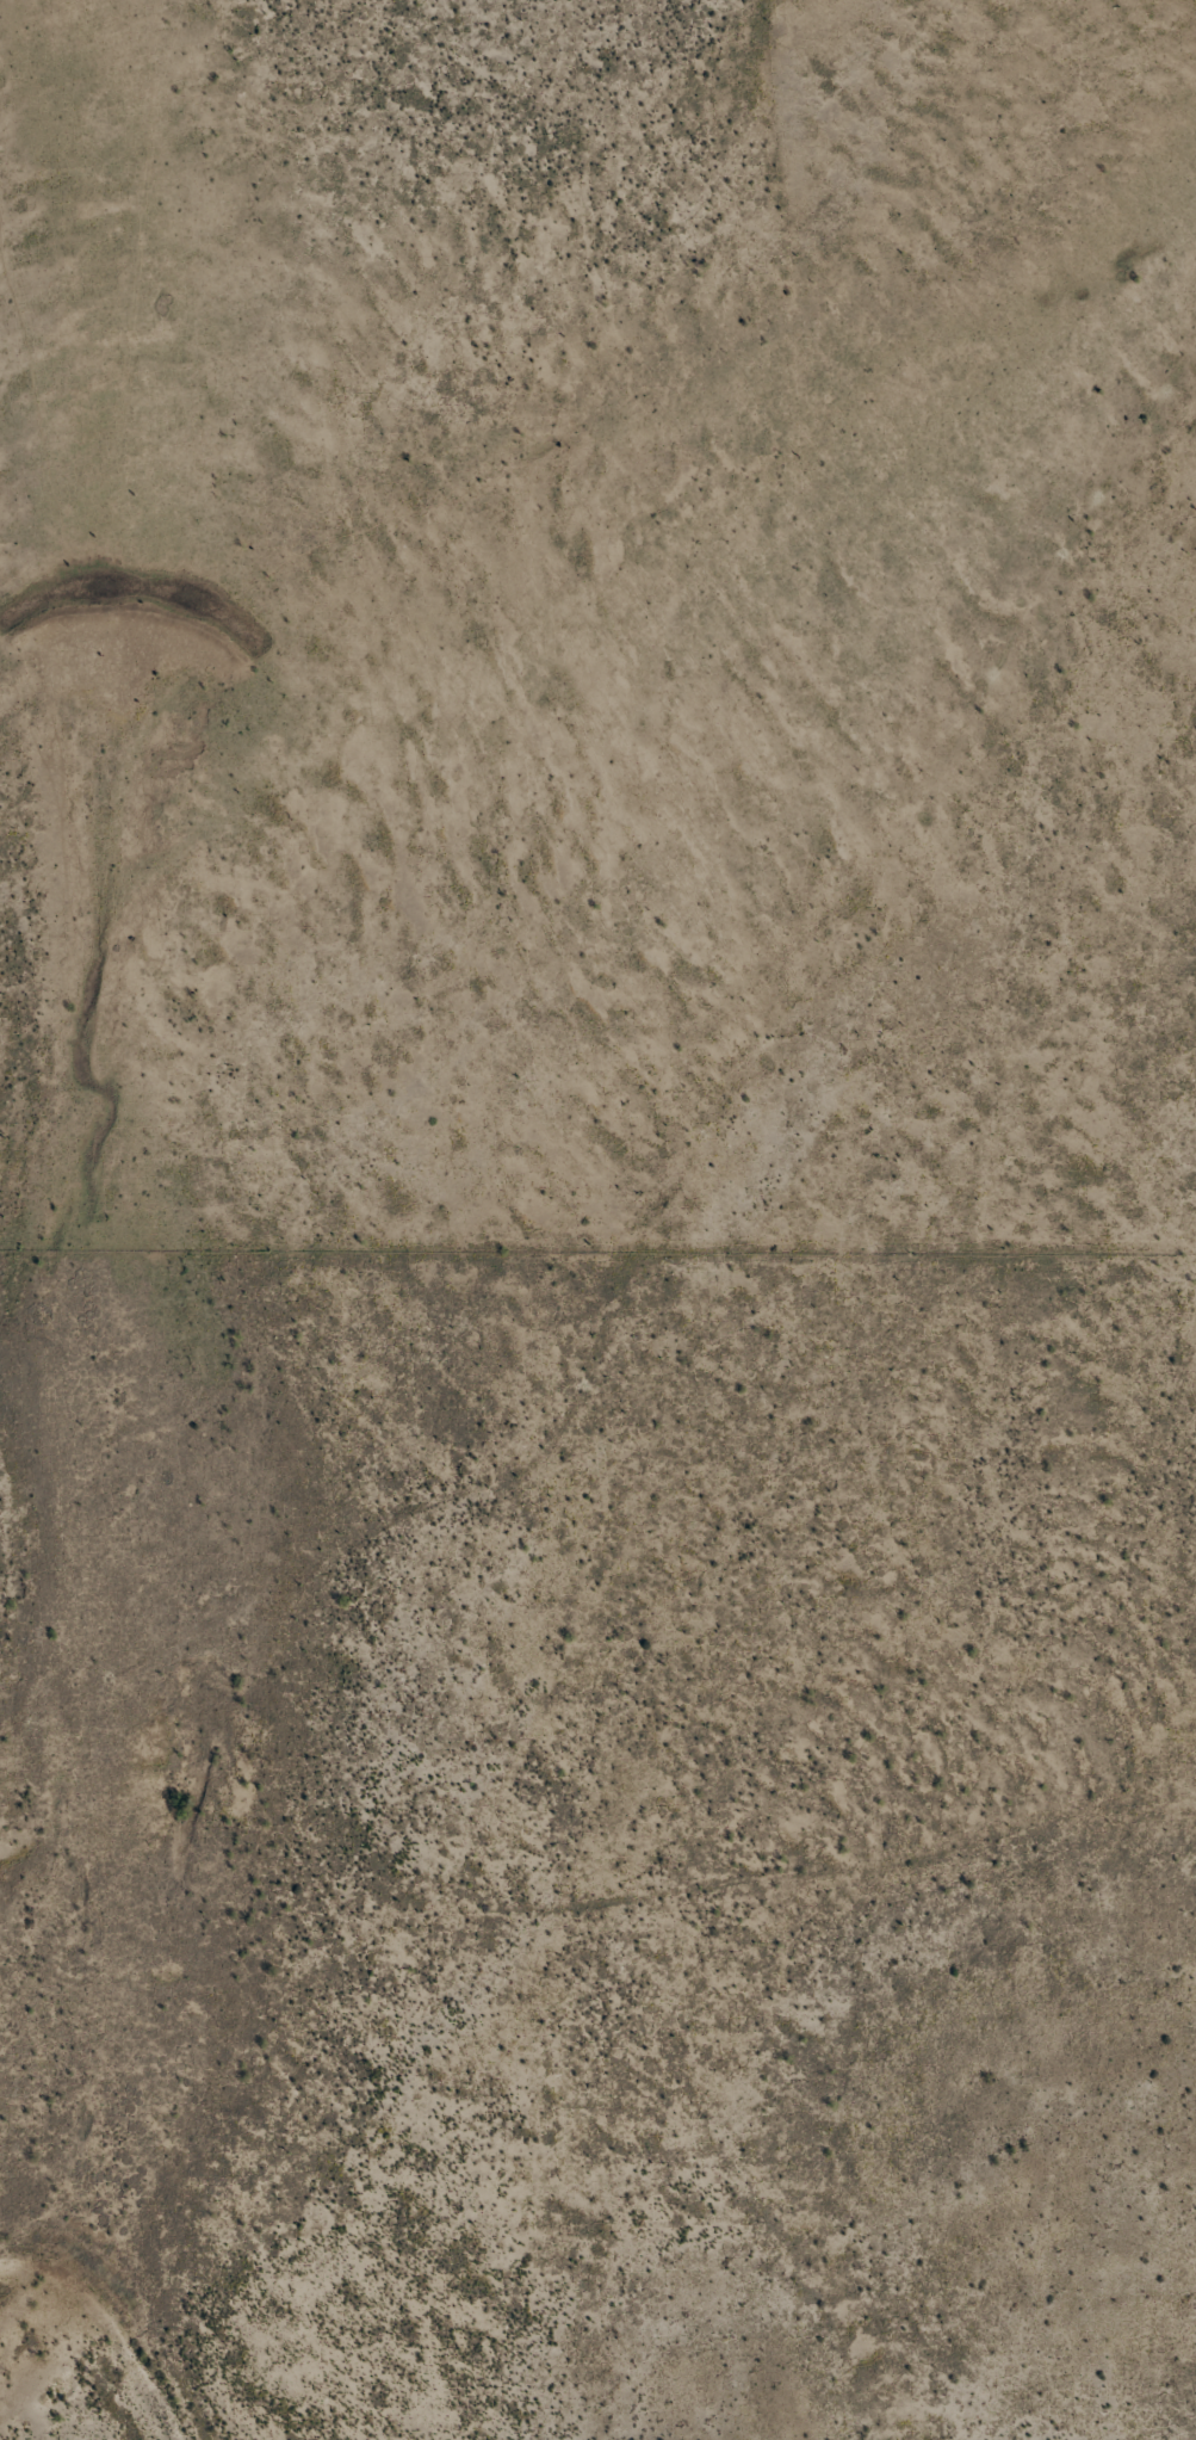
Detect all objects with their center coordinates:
road: (686, 1211)

